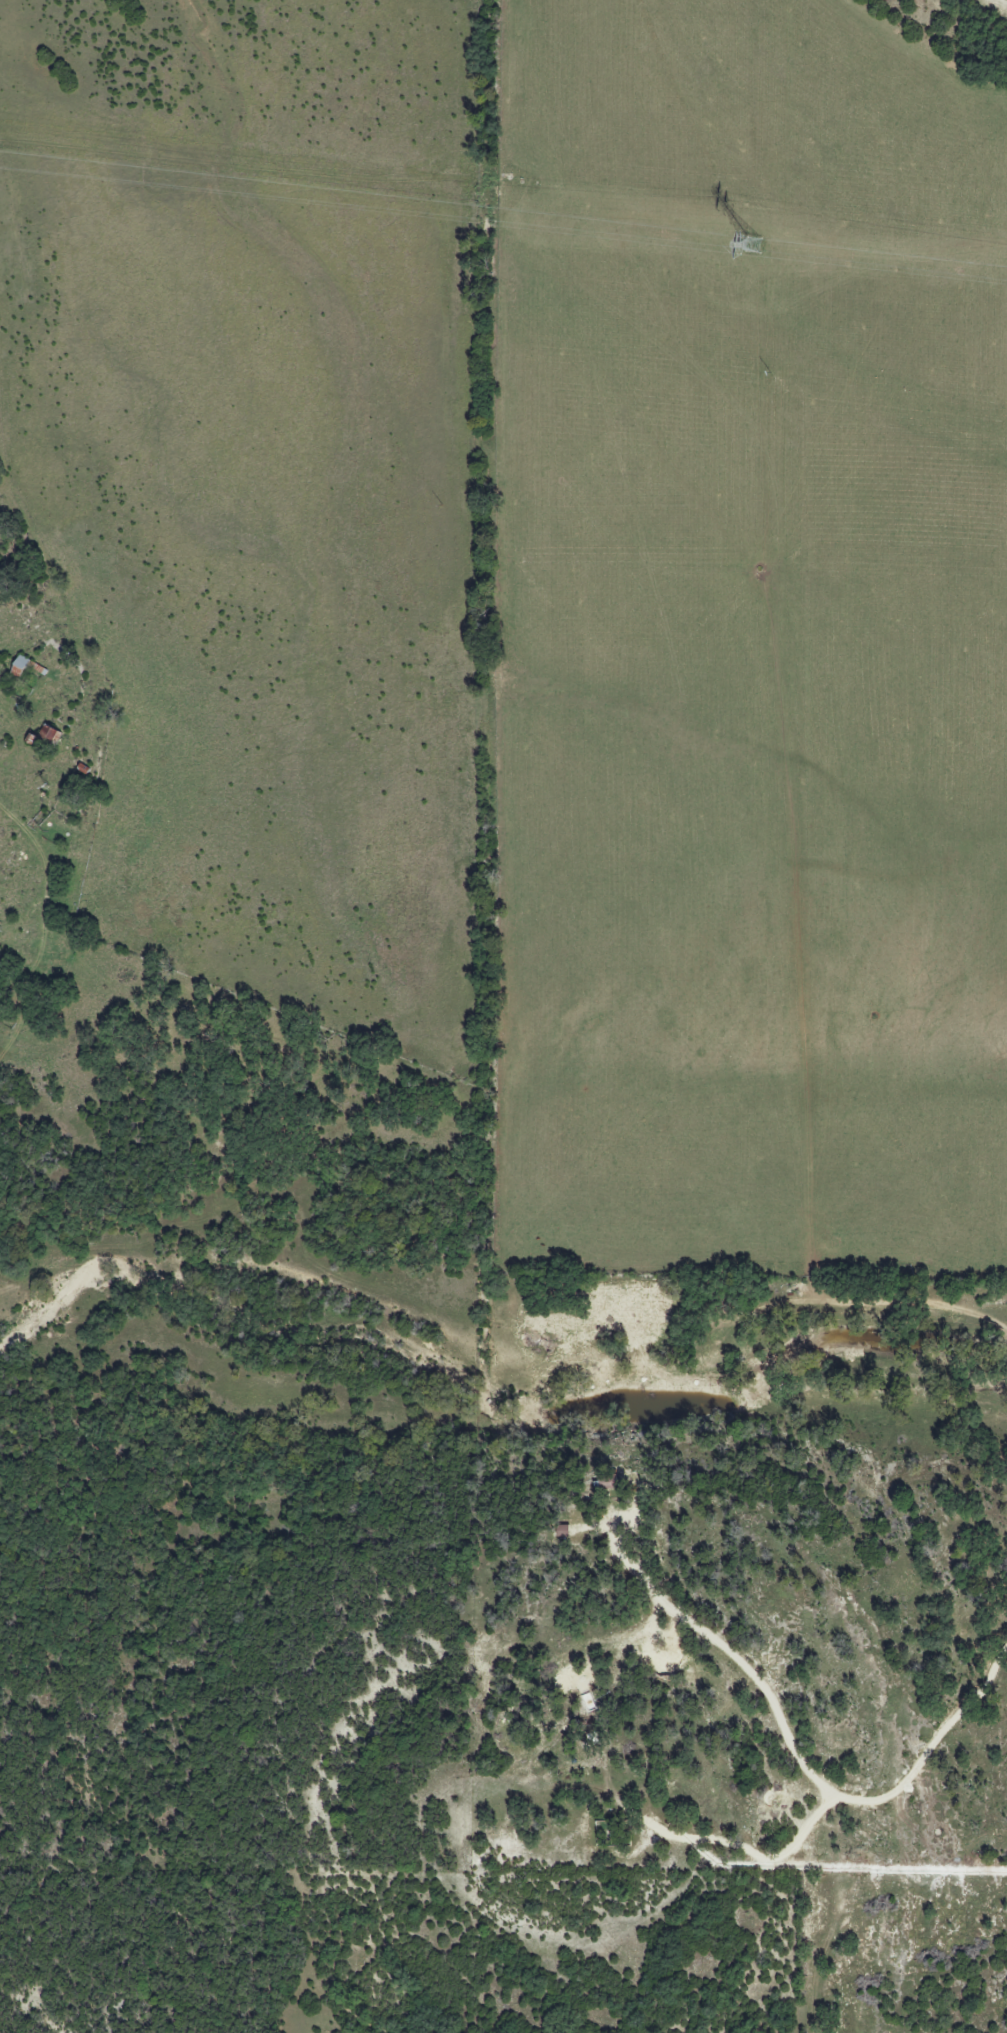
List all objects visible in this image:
power tower: (756, 246)
road: (804, 1753)
park: (612, 1835)

